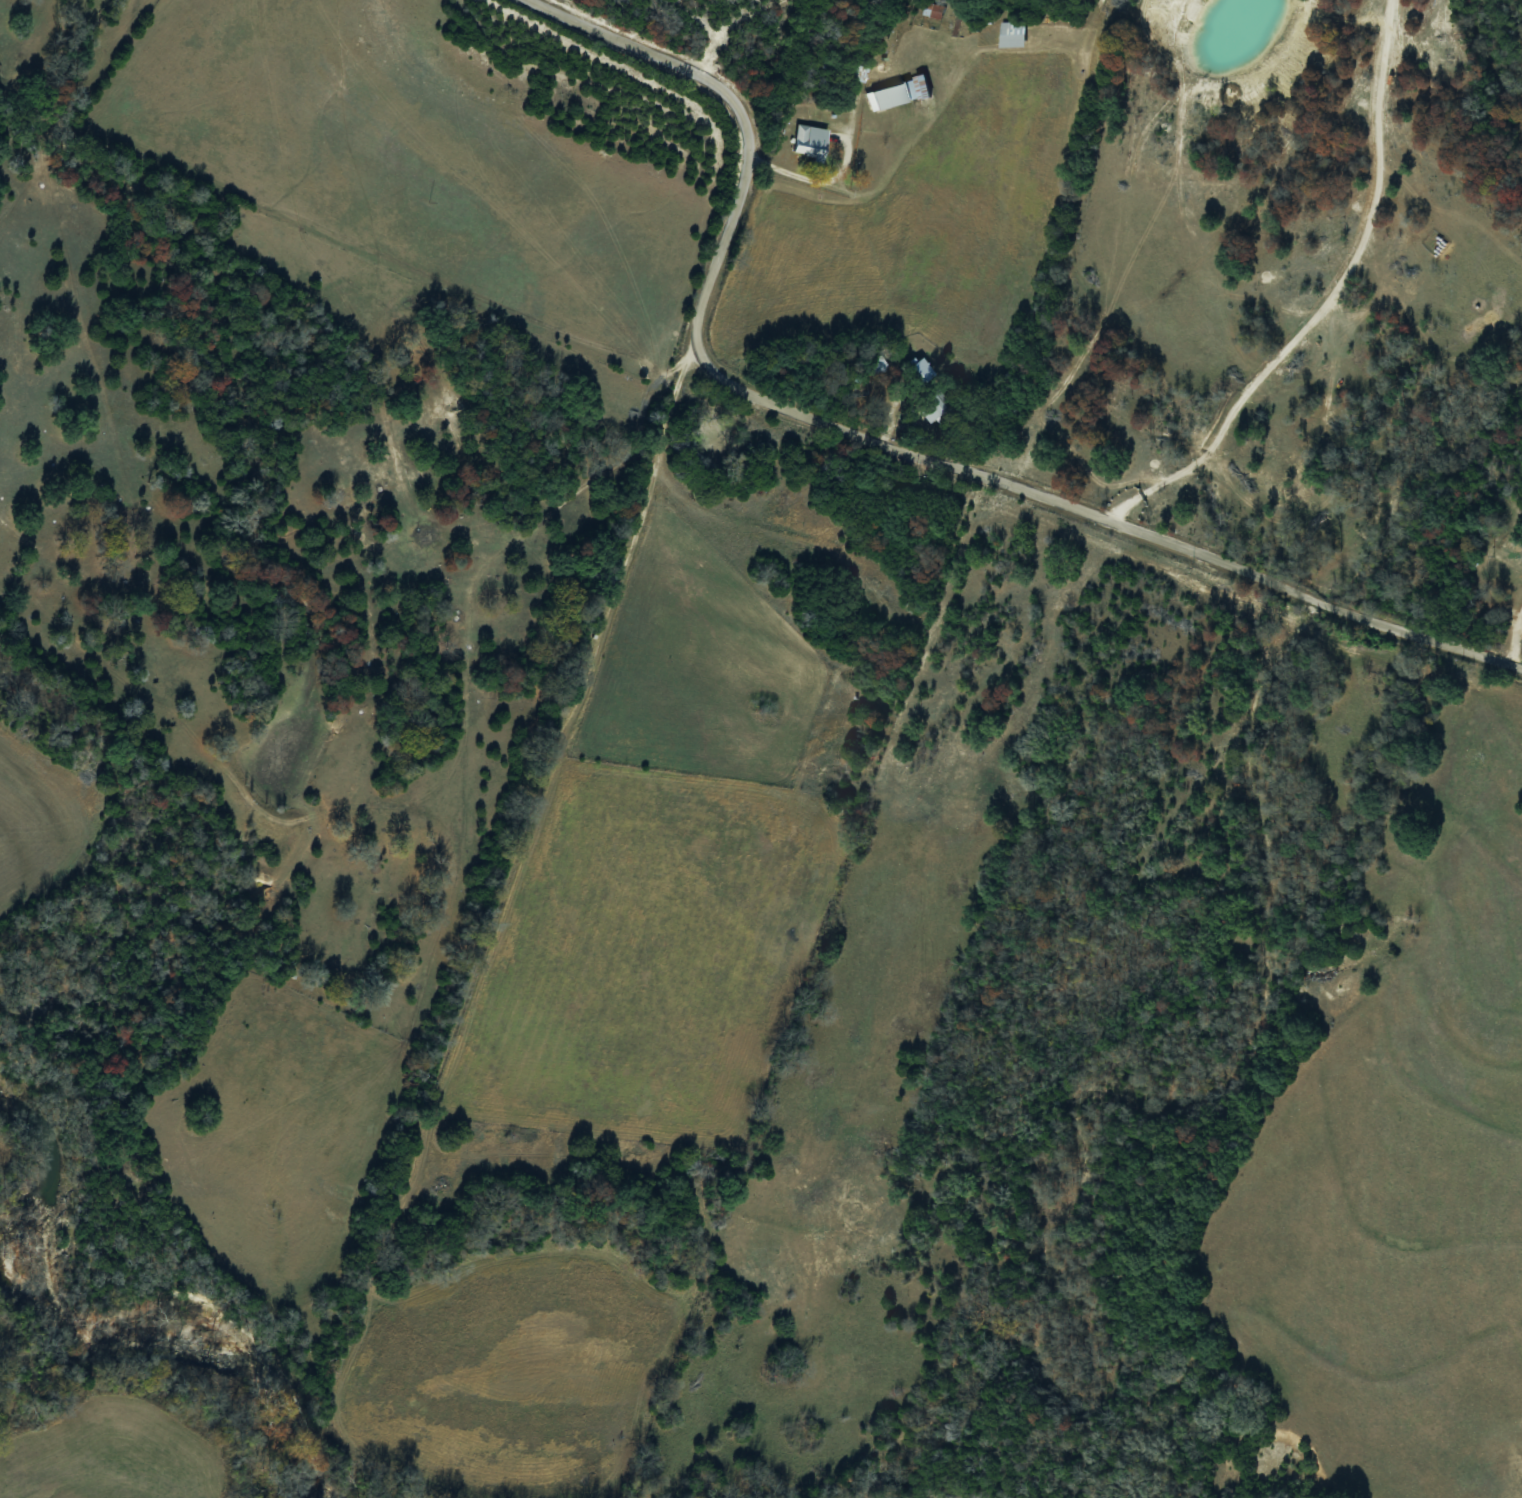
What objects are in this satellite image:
building: (1011, 34)
building: (898, 93)
building: (811, 141)
building: (877, 366)
building: (921, 370)
building: (864, 391)
building: (935, 406)
road: (869, 444)

